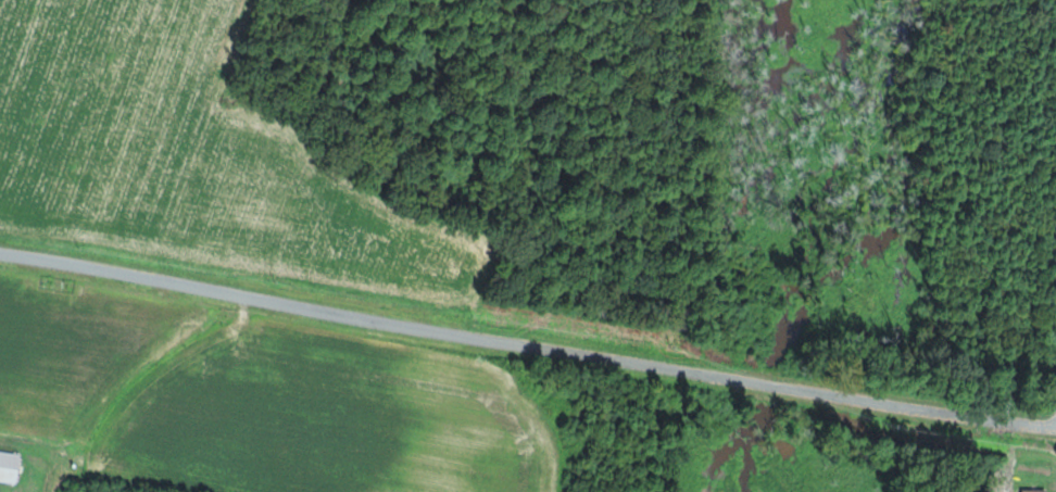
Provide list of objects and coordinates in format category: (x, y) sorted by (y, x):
road: (527, 343)
building: (11, 464)
building: (1039, 491)

